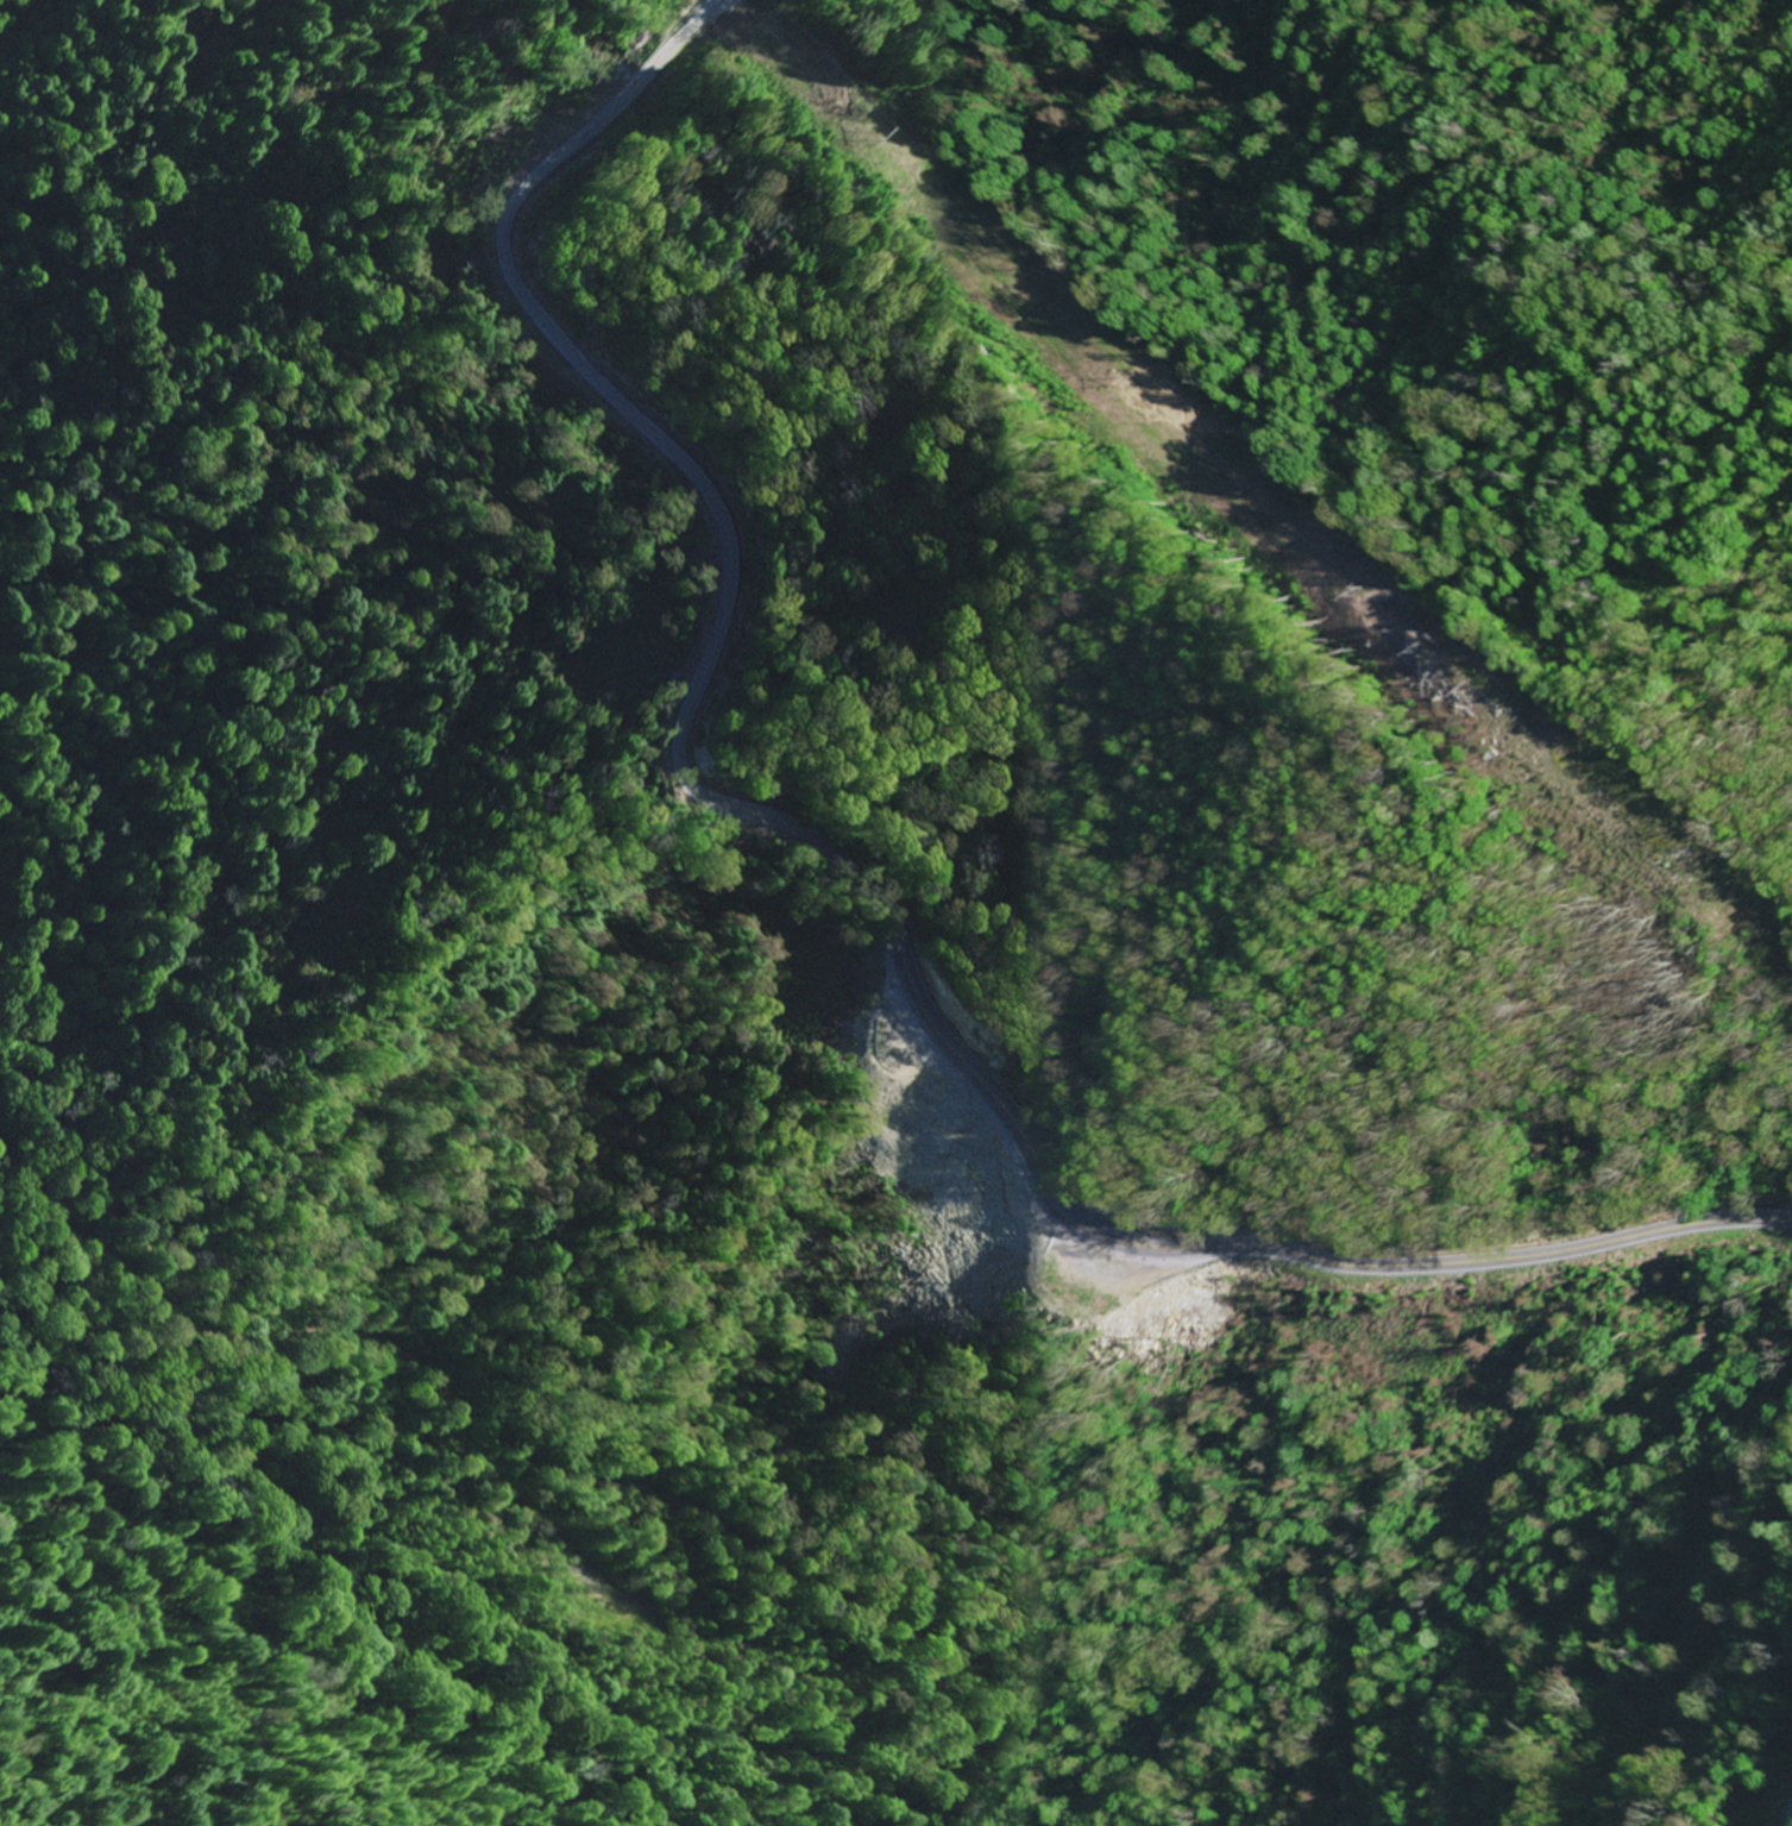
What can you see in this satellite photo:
road: (868, 879)

